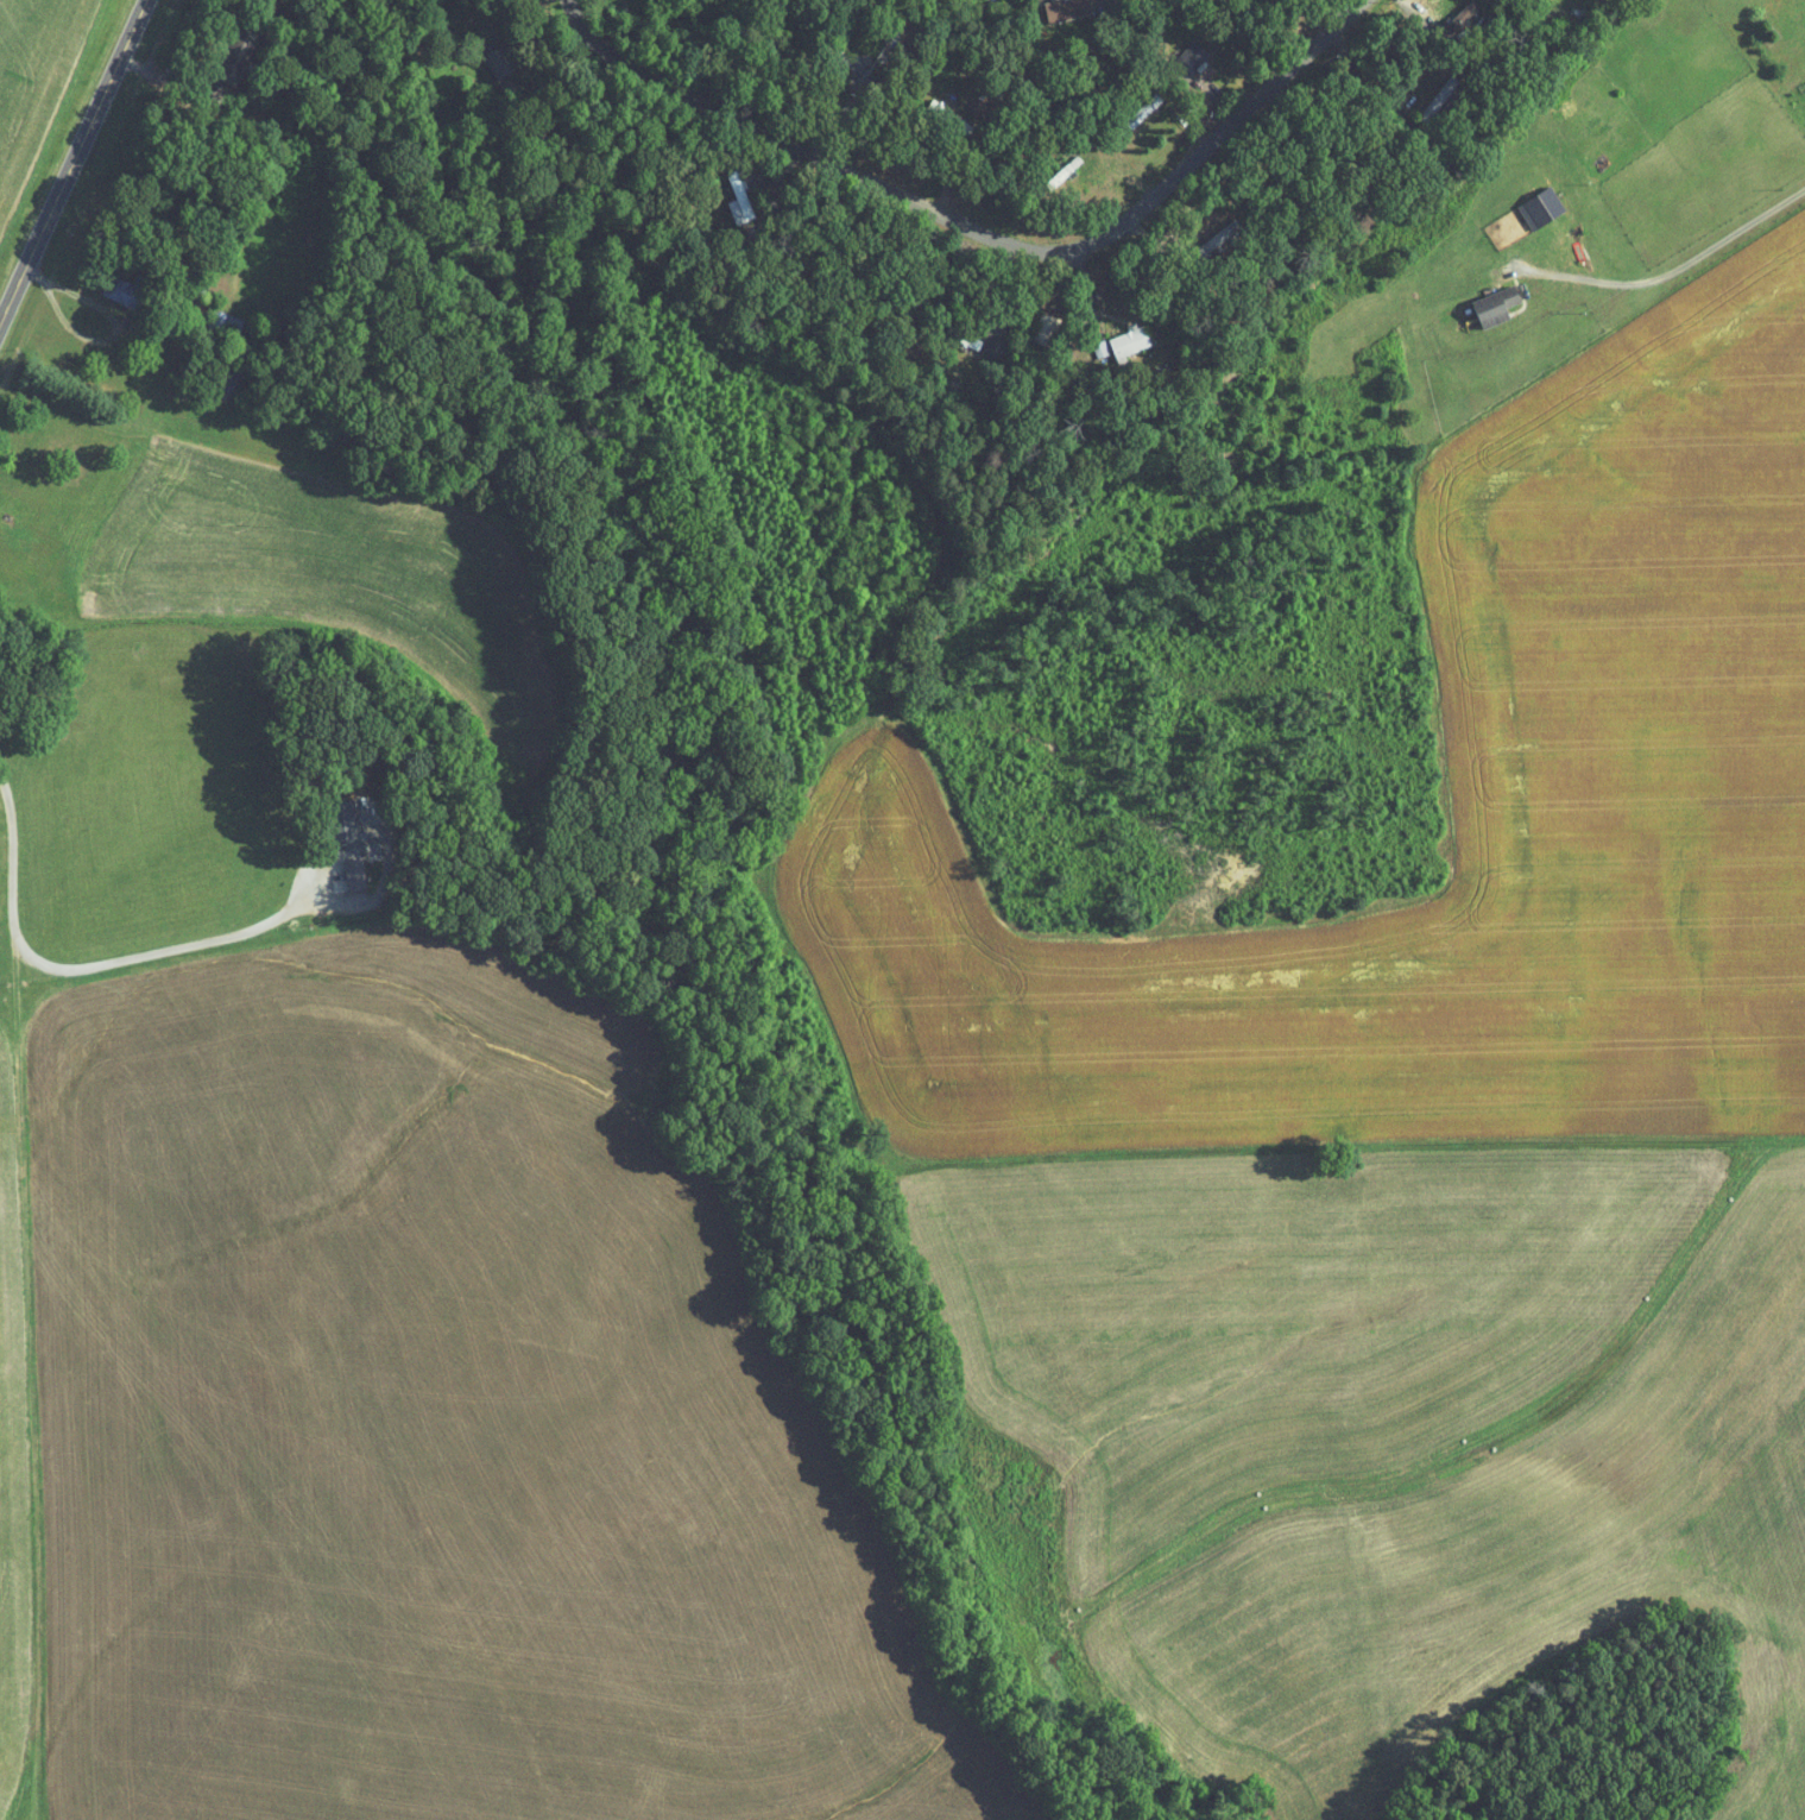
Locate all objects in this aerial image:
road: (1102, 5)
building: (1066, 8)
road: (1325, 12)
building: (1142, 30)
building: (1194, 65)
road: (554, 68)
road: (168, 74)
road: (1242, 80)
road: (1318, 109)
road: (863, 134)
road: (717, 156)
road: (72, 163)
road: (954, 175)
road: (1205, 181)
road: (1096, 202)
road: (983, 233)
road: (1672, 270)
road: (68, 286)
road: (985, 286)
road: (1098, 292)
road: (1044, 296)
building: (1489, 304)
road: (29, 415)
building: (342, 836)
road: (90, 964)

